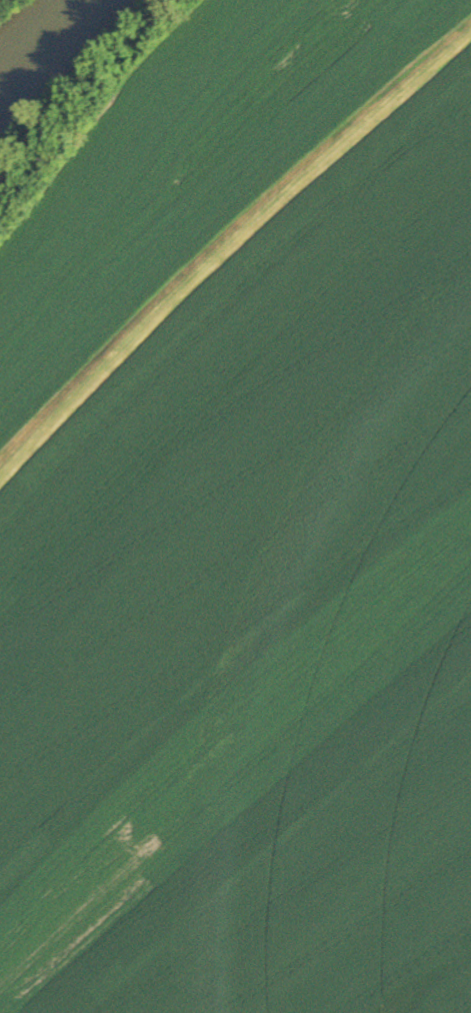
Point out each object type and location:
river: (34, 37)
road: (457, 1001)

